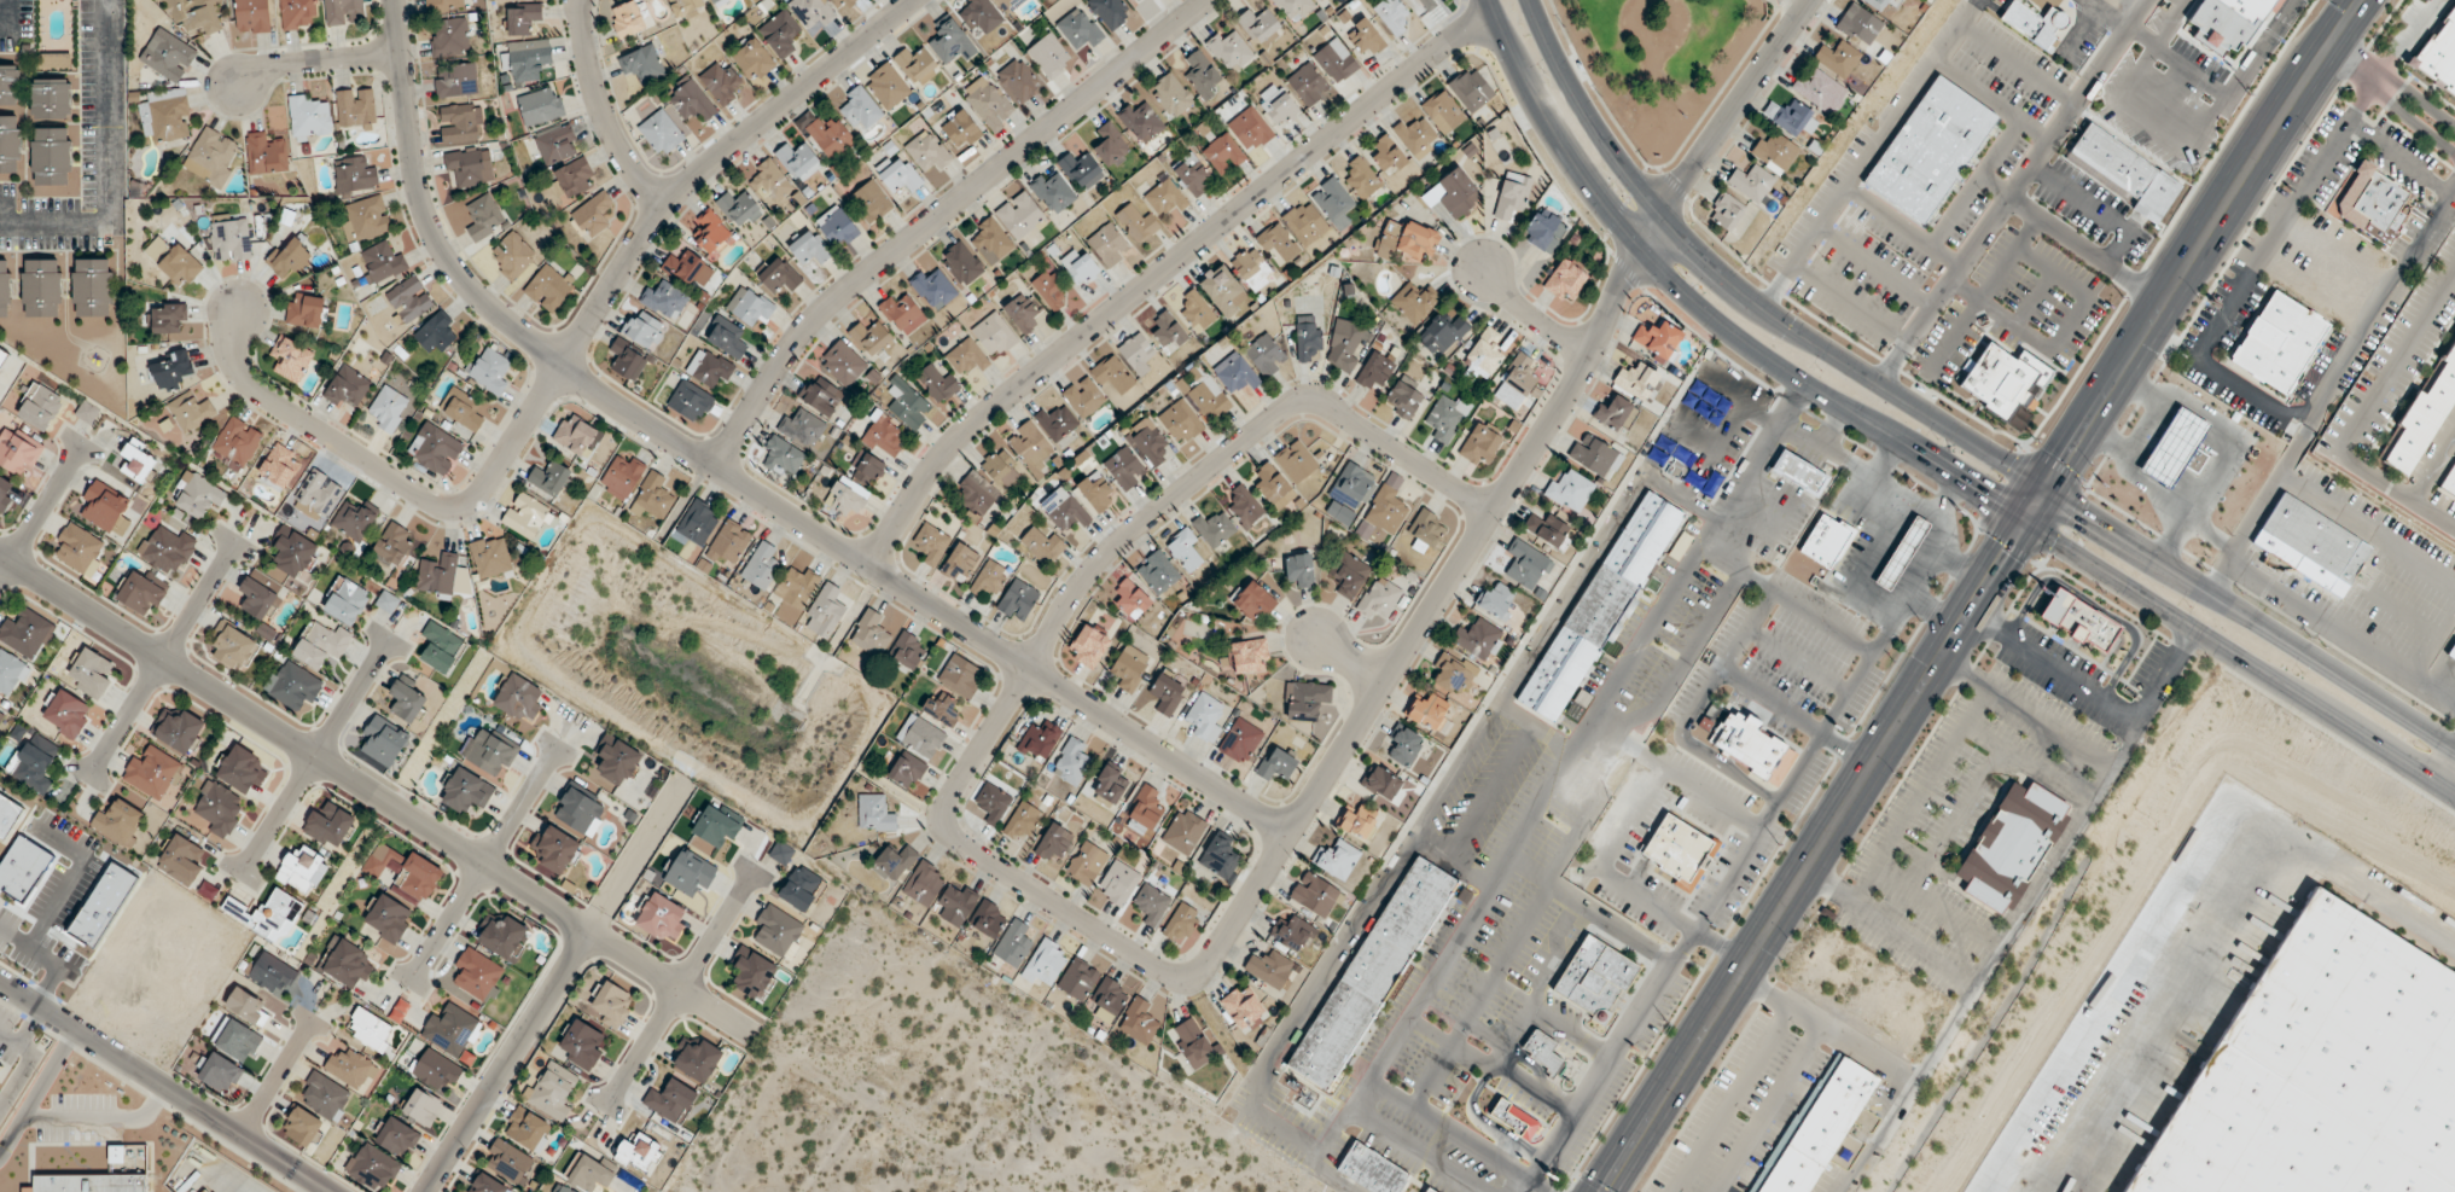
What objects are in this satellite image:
building: (716, 1)
building: (1321, 1)
road: (0, 4)
building: (840, 4)
building: (1427, 4)
building: (1878, 4)
building: (444, 5)
building: (1008, 5)
building: (685, 7)
building: (1293, 8)
building: (2251, 10)
building: (343, 12)
building: (1109, 12)
road: (2106, 12)
building: (297, 13)
building: (811, 13)
building: (978, 14)
road: (1, 16)
building: (192, 16)
building: (252, 16)
building: (1392, 16)
building: (522, 18)
building: (627, 19)
building: (2032, 23)
building: (1864, 25)
building: (1258, 27)
building: (1078, 29)
building: (780, 34)
building: (450, 37)
building: (1365, 37)
building: (950, 42)
building: (1229, 51)
building: (2438, 54)
building: (167, 56)
building: (1049, 56)
building: (525, 58)
building: (1838, 59)
building: (53, 60)
road: (314, 60)
building: (752, 60)
building: (1336, 60)
building: (641, 64)
building: (917, 65)
building: (1202, 76)
building: (455, 80)
building: (1018, 80)
building: (721, 82)
building: (10, 85)
building: (1307, 85)
building: (886, 86)
building: (1471, 89)
building: (1820, 92)
road: (2392, 92)
power tower: (2247, 93)
building: (1171, 95)
building: (51, 98)
building: (691, 101)
building: (988, 103)
building: (540, 106)
building: (1280, 107)
building: (355, 109)
building: (860, 109)
road: (601, 111)
building: (1443, 111)
building: (165, 116)
building: (309, 118)
building: (1794, 118)
building: (1141, 121)
building: (460, 123)
building: (1250, 129)
building: (662, 130)
building: (959, 132)
building: (828, 136)
building: (1415, 136)
building: (10, 144)
building: (557, 145)
building: (1111, 146)
building: (1927, 150)
building: (1774, 151)
building: (266, 153)
building: (929, 153)
building: (1223, 153)
road: (1867, 153)
building: (51, 156)
building: (1389, 156)
road: (107, 157)
building: (211, 157)
building: (798, 162)
building: (470, 167)
building: (1080, 170)
building: (1192, 175)
building: (354, 176)
building: (900, 178)
building: (572, 179)
building: (1361, 179)
building: (769, 181)
building: (1751, 182)
road: (2008, 190)
building: (1052, 192)
building: (1458, 192)
building: (1512, 196)
building: (1165, 198)
building: (869, 202)
building: (1334, 203)
building: (2372, 204)
building: (739, 208)
building: (1726, 211)
road: (5, 213)
road: (939, 214)
building: (1019, 215)
building: (592, 216)
building: (483, 217)
building: (365, 220)
road: (5, 221)
building: (1135, 221)
building: (1305, 222)
building: (838, 228)
building: (1544, 231)
road: (2274, 231)
building: (712, 233)
building: (229, 239)
building: (1404, 240)
building: (990, 242)
road: (2201, 242)
building: (1278, 244)
building: (1109, 245)
building: (809, 249)
road: (2084, 249)
building: (511, 255)
building: (289, 257)
building: (173, 261)
building: (383, 261)
building: (961, 263)
building: (685, 267)
building: (1078, 267)
building: (1251, 269)
road: (1162, 271)
building: (779, 274)
building: (1565, 280)
building: (91, 287)
building: (4, 289)
building: (40, 289)
building: (548, 289)
building: (932, 289)
building: (1048, 289)
building: (1222, 290)
road: (1740, 291)
power tower: (2123, 292)
road: (2381, 293)
building: (408, 300)
building: (664, 300)
building: (1413, 302)
building: (750, 307)
building: (306, 310)
road: (1705, 310)
building: (1195, 312)
building: (901, 313)
building: (1022, 314)
road: (1532, 315)
building: (168, 318)
building: (644, 328)
building: (1167, 332)
building: (436, 333)
building: (1442, 335)
building: (994, 336)
building: (726, 337)
building: (1307, 337)
building: (869, 338)
building: (1657, 339)
building: (2279, 342)
building: (1346, 343)
building: (1136, 354)
building: (2, 355)
building: (1264, 355)
building: (1483, 355)
building: (966, 357)
building: (291, 359)
building: (628, 359)
road: (564, 361)
building: (843, 364)
building: (170, 368)
building: (489, 370)
building: (710, 370)
building: (1374, 372)
building: (1111, 376)
building: (1237, 378)
building: (1636, 380)
building: (1517, 382)
building: (936, 383)
building: (347, 386)
building: (821, 395)
building: (1083, 397)
building: (1208, 399)
building: (1402, 400)
building: (690, 401)
building: (907, 403)
building: (39, 407)
building: (386, 408)
building: (463, 408)
building: (87, 412)
building: (191, 412)
building: (1615, 413)
building: (1447, 417)
building: (2425, 417)
building: (1055, 423)
building: (1180, 423)
building: (802, 426)
building: (576, 435)
building: (885, 438)
road: (2229, 438)
power tower: (2034, 440)
building: (1148, 442)
building: (235, 444)
building: (1480, 444)
building: (1030, 447)
building: (2174, 447)
gas station: (2172, 448)
building: (435, 449)
building: (17, 450)
building: (1594, 455)
building: (781, 458)
traffic signals: (2064, 459)
building: (1296, 461)
building: (2194, 461)
building: (139, 463)
building: (1083, 463)
building: (278, 467)
building: (1000, 469)
building: (1124, 469)
building: (868, 471)
building: (1797, 473)
building: (621, 476)
building: (549, 478)
building: (1273, 485)
building: (2450, 485)
road: (746, 487)
road: (1506, 489)
building: (1569, 489)
building: (1095, 492)
road: (2152, 492)
building: (5, 493)
building: (976, 494)
building: (1349, 494)
building: (197, 495)
building: (316, 495)
building: (653, 495)
traffic signals: (1983, 495)
building: (844, 499)
road: (2262, 499)
road: (2036, 504)
building: (104, 506)
building: (1244, 506)
road: (41, 507)
building: (1384, 508)
building: (1064, 510)
traffic signals: (2085, 511)
building: (525, 516)
building: (356, 522)
building: (698, 522)
building: (1212, 529)
building: (1426, 531)
building: (1549, 531)
building: (1823, 542)
building: (728, 543)
building: (931, 543)
building: (394, 545)
building: (1043, 545)
building: (2309, 546)
building: (78, 550)
building: (165, 550)
building: (1185, 550)
building: (293, 553)
gas station: (1901, 553)
building: (1902, 553)
traffic signals: (2005, 554)
building: (490, 557)
road: (1961, 562)
building: (960, 563)
building: (1525, 565)
building: (761, 566)
building: (1299, 571)
building: (1157, 572)
building: (437, 574)
building: (1349, 575)
building: (989, 580)
building: (793, 592)
building: (140, 593)
building: (388, 599)
building: (1018, 600)
building: (1130, 600)
building: (1379, 600)
building: (345, 601)
building: (1495, 601)
road: (1877, 601)
building: (1255, 603)
building: (260, 605)
road: (1933, 606)
building: (1598, 609)
building: (826, 611)
road: (1061, 612)
road: (2250, 616)
power tower: (1919, 620)
building: (2078, 622)
building: (871, 633)
building: (28, 635)
road: (2339, 635)
building: (1477, 639)
building: (320, 645)
building: (1087, 646)
building: (232, 647)
building: (441, 647)
building: (908, 650)
building: (2451, 651)
road: (161, 657)
building: (1247, 657)
road: (2240, 657)
road: (1346, 663)
building: (1128, 668)
building: (10, 674)
building: (91, 674)
building: (960, 676)
building: (1450, 676)
building: (292, 688)
building: (1167, 693)
building: (519, 698)
building: (407, 699)
building: (1305, 702)
building: (943, 709)
building: (0, 710)
building: (1426, 711)
building: (65, 714)
building: (1205, 717)
building: (178, 731)
building: (924, 738)
building: (383, 742)
building: (1039, 742)
building: (1239, 742)
building: (1404, 745)
building: (1751, 746)
building: (489, 751)
road: (313, 755)
building: (617, 760)
building: (34, 763)
building: (1071, 763)
building: (1275, 764)
building: (240, 771)
building: (907, 771)
building: (151, 772)
road: (2448, 772)
building: (1111, 783)
building: (1380, 783)
building: (465, 791)
road: (378, 797)
building: (994, 804)
building: (217, 808)
building: (580, 810)
building: (874, 813)
building: (1145, 813)
building: (8, 816)
building: (1023, 820)
building: (118, 822)
building: (1357, 822)
building: (328, 825)
building: (717, 825)
building: (1183, 832)
building: (1054, 843)
power tower: (1776, 844)
building: (2007, 844)
building: (554, 849)
building: (1676, 851)
building: (781, 853)
building: (1221, 857)
road: (1815, 857)
building: (181, 860)
building: (1336, 860)
building: (894, 864)
building: (1086, 864)
road: (481, 866)
building: (301, 870)
building: (406, 872)
building: (690, 873)
building: (924, 883)
building: (1118, 883)
building: (801, 889)
building: (1315, 896)
building: (956, 903)
building: (1152, 903)
building: (268, 915)
building: (388, 918)
building: (662, 918)
building: (989, 919)
building: (1182, 928)
building: (778, 931)
building: (1292, 934)
building: (501, 935)
road: (2204, 938)
building: (1013, 944)
building: (347, 965)
building: (1045, 965)
building: (1269, 969)
building: (751, 972)
building: (269, 973)
building: (478, 975)
building: (1368, 975)
building: (1595, 978)
building: (1078, 979)
road: (676, 988)
building: (1110, 1000)
building: (611, 1004)
building: (246, 1006)
building: (1244, 1008)
building: (1139, 1022)
power tower: (1665, 1022)
building: (371, 1031)
building: (452, 1031)
road: (1832, 1033)
building: (237, 1041)
building: (1193, 1042)
building: (581, 1045)
building: (1543, 1051)
building: (697, 1058)
road: (502, 1060)
building: (0, 1065)
building: (435, 1070)
building: (217, 1072)
building: (2321, 1074)
road: (275, 1076)
road: (164, 1087)
road: (35, 1089)
building: (551, 1091)
building: (324, 1097)
building: (670, 1101)
building: (421, 1107)
road: (99, 1118)
parking lot: (80, 1120)
building: (1511, 1120)
building: (302, 1127)
building: (1815, 1128)
building: (528, 1129)
building: (396, 1138)
building: (640, 1155)
building: (508, 1162)
building: (371, 1168)
building: (1367, 1170)
building: (589, 1174)
building: (88, 1184)
road: (239, 1184)
building: (487, 1185)
building: (562, 1188)
building: (1425, 1190)

